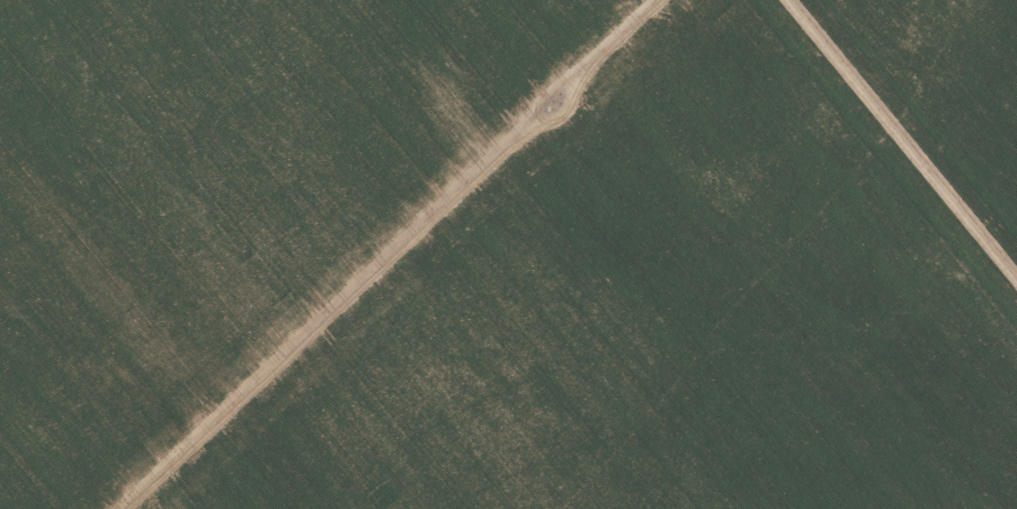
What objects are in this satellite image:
road: (299, 285)

